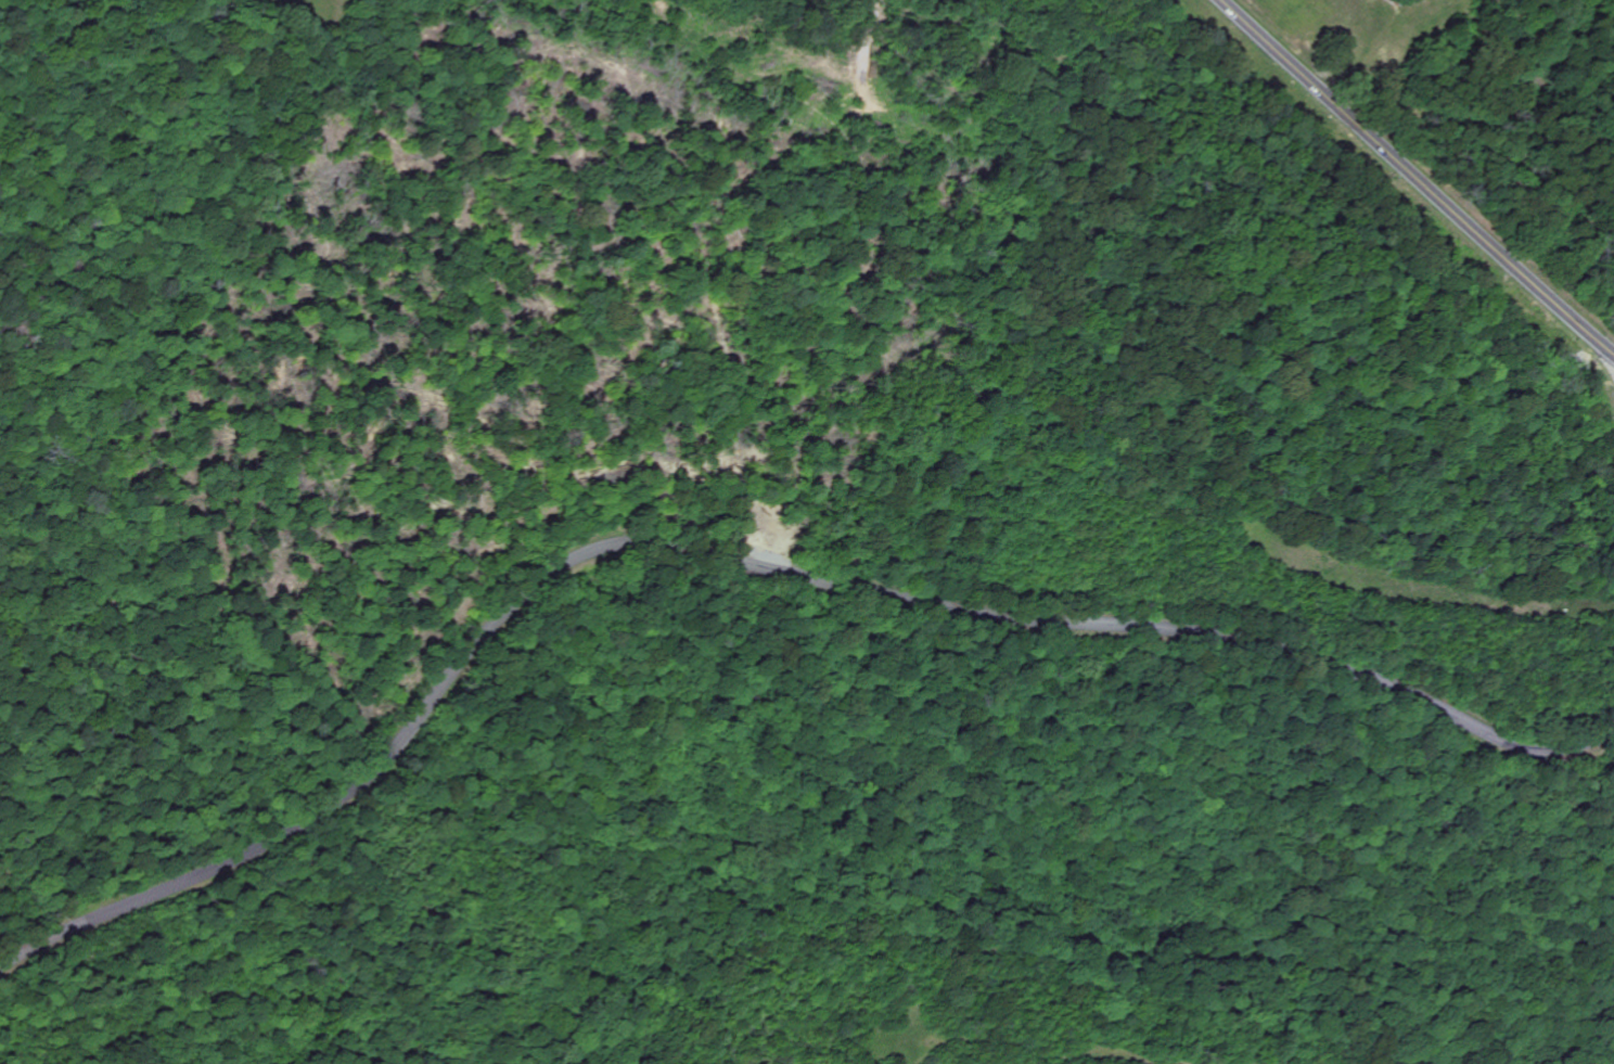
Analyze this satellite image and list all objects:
road: (1414, 178)
road: (747, 564)

